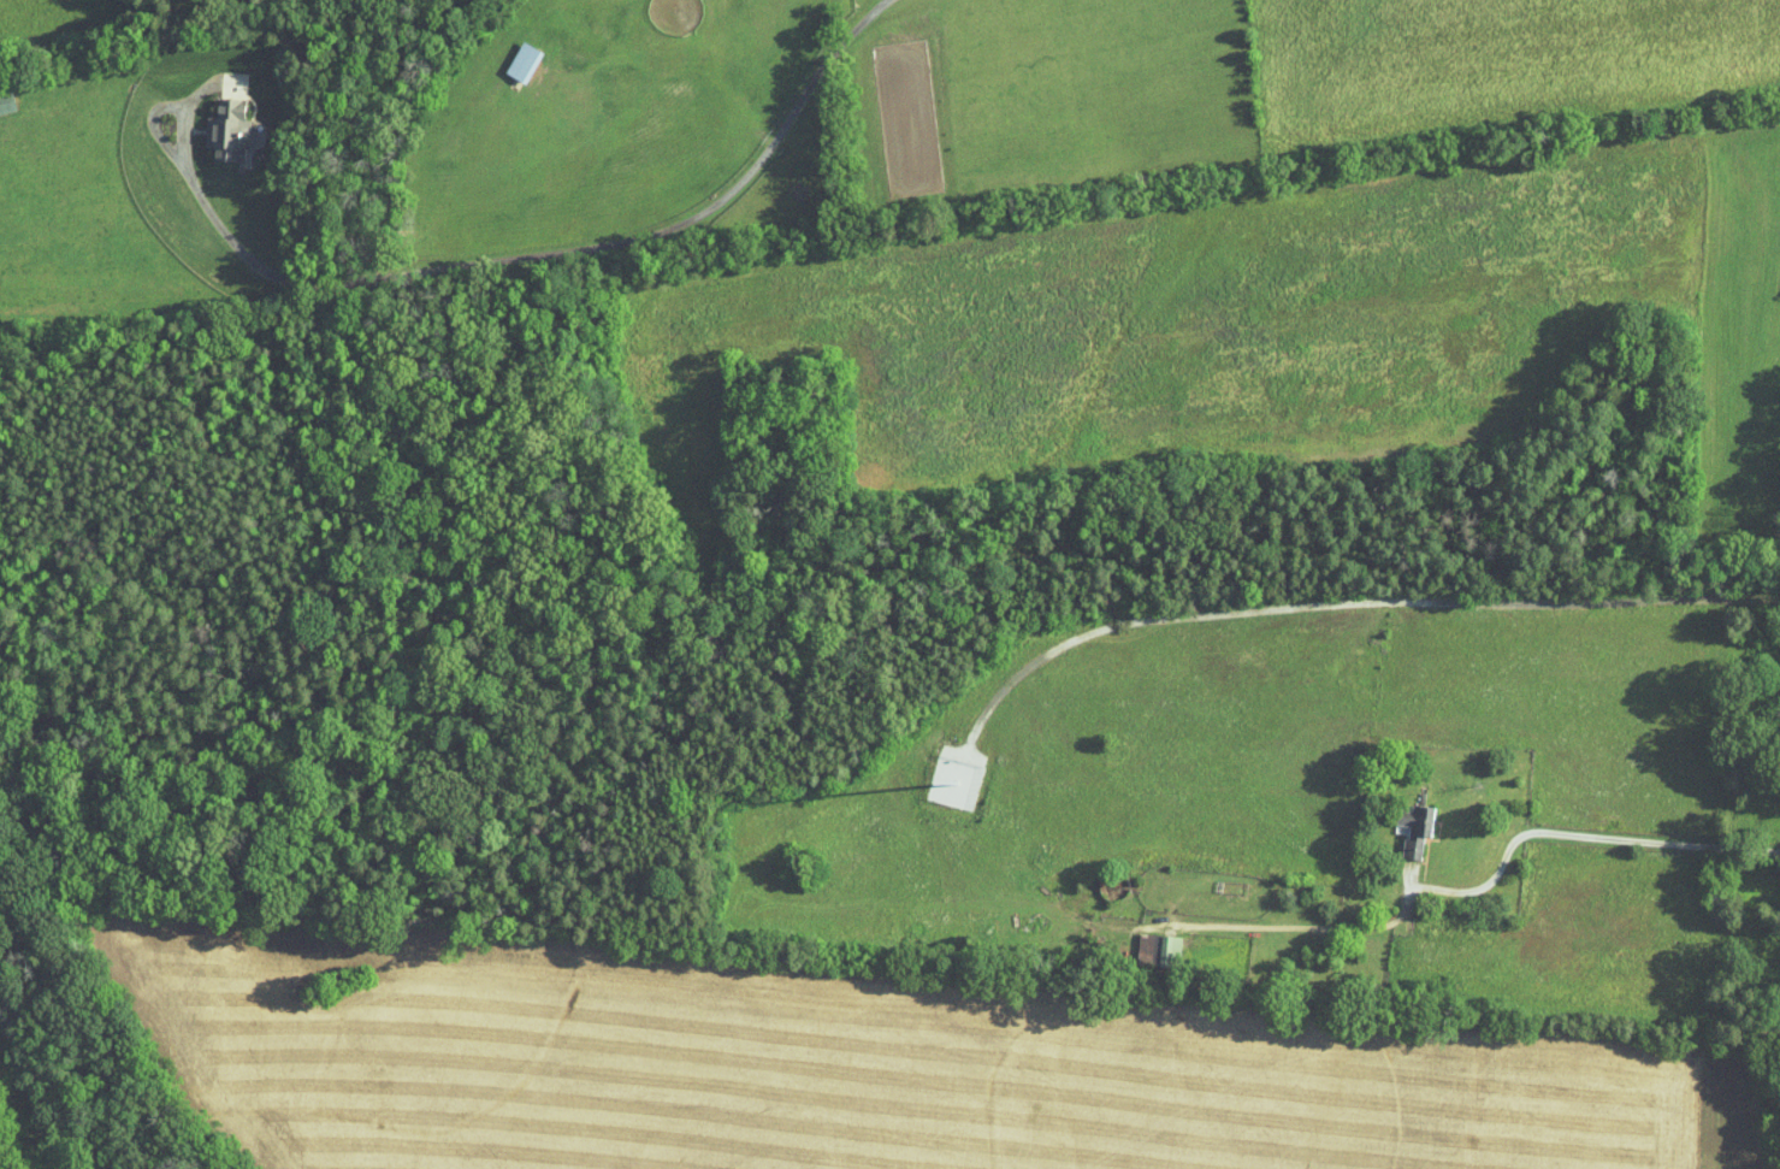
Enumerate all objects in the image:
building: (509, 53)
building: (0, 100)
road: (164, 106)
building: (214, 123)
road: (561, 252)
road: (1355, 604)
building: (1401, 821)
road: (1483, 886)
building: (1143, 943)

